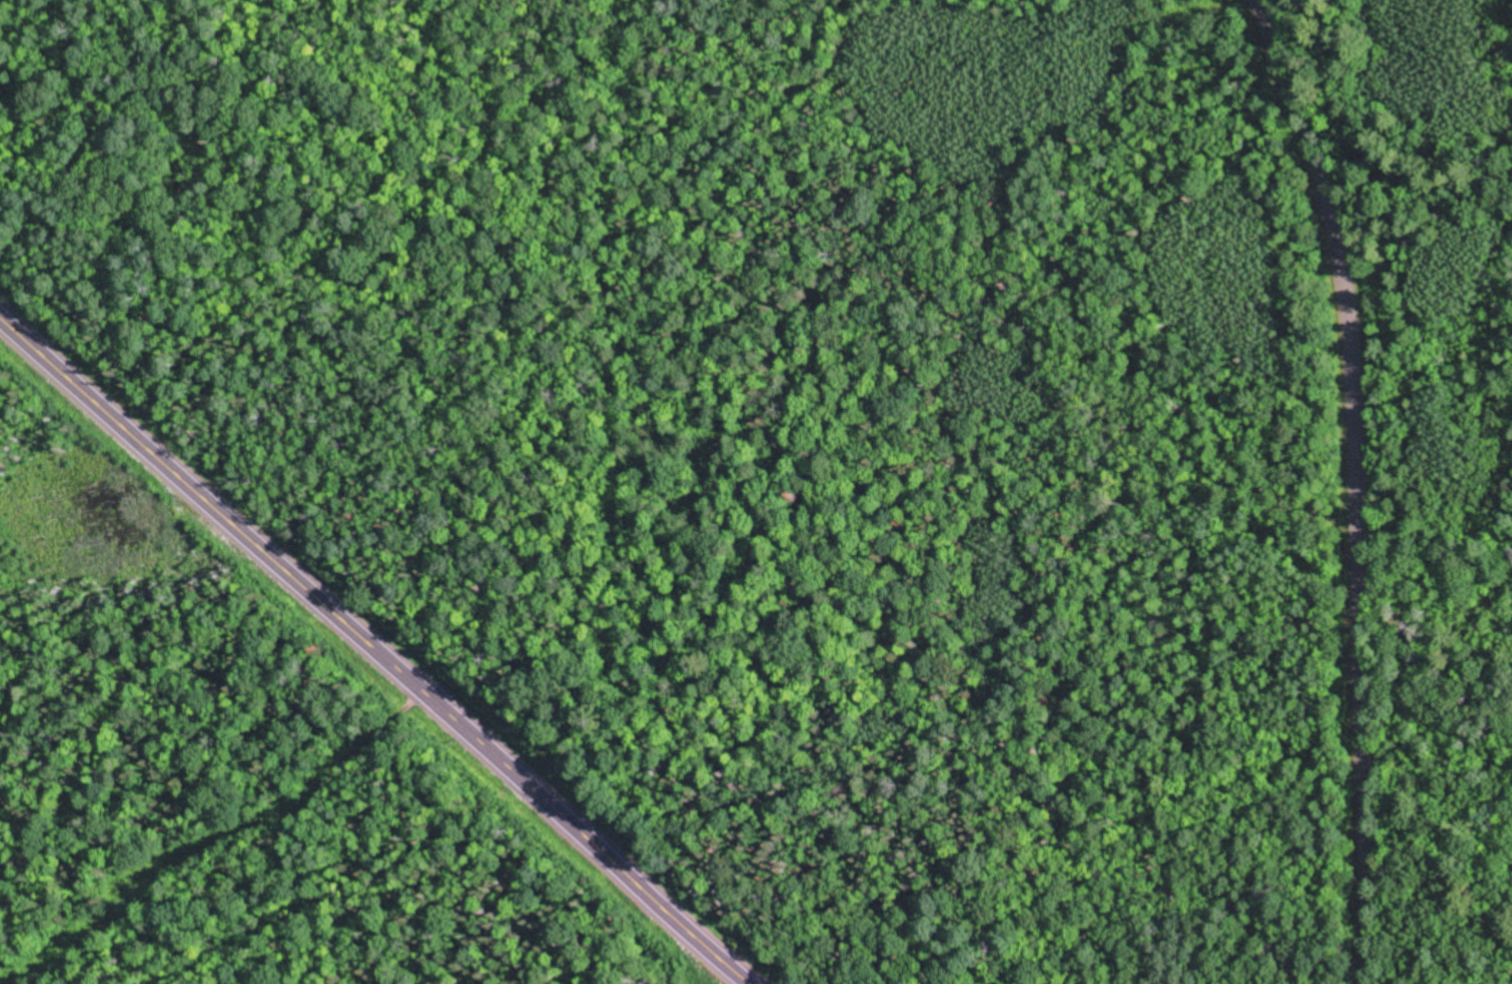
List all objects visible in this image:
road: (1336, 485)
road: (378, 648)

